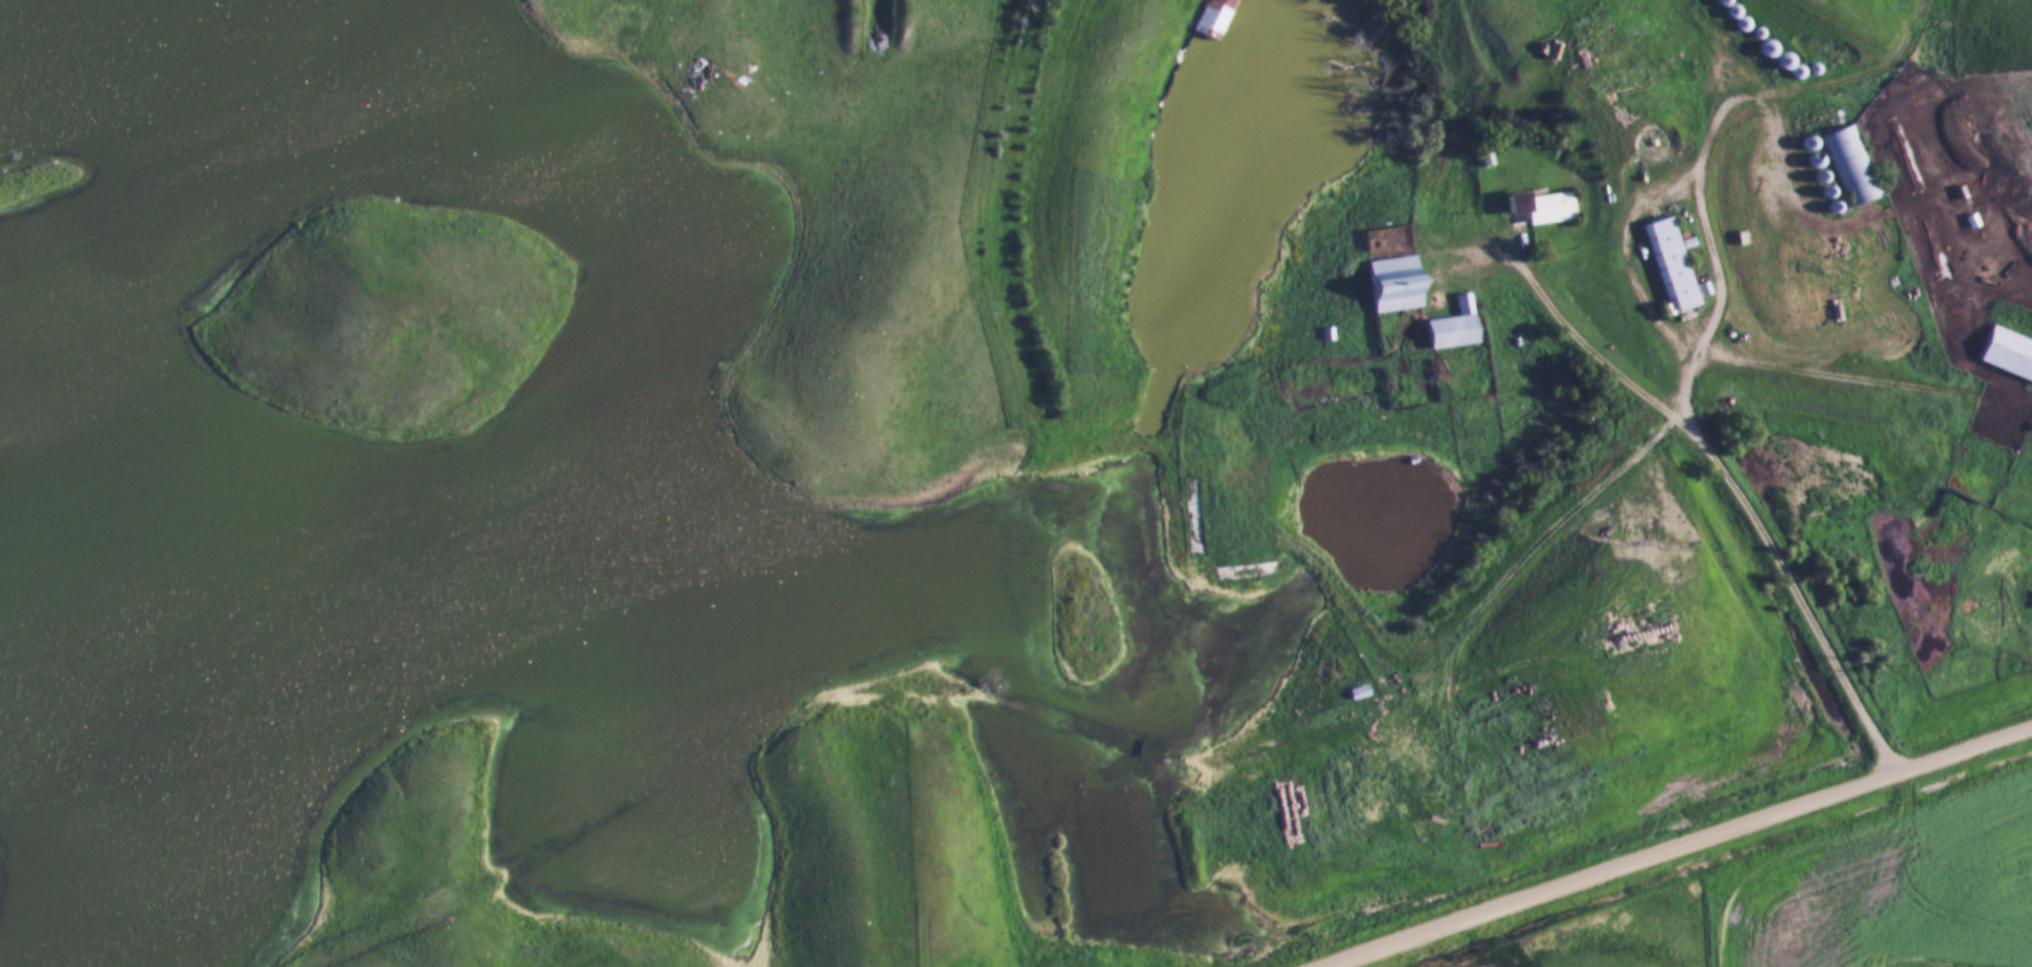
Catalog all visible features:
building: (1212, 17)
road: (1810, 86)
road: (1699, 165)
building: (1849, 165)
building: (1542, 205)
building: (1670, 265)
building: (1396, 284)
building: (1455, 326)
building: (2008, 354)
road: (1706, 454)
road: (1298, 540)
building: (2031, 601)
road: (1424, 666)
building: (1360, 693)
road: (1675, 846)

